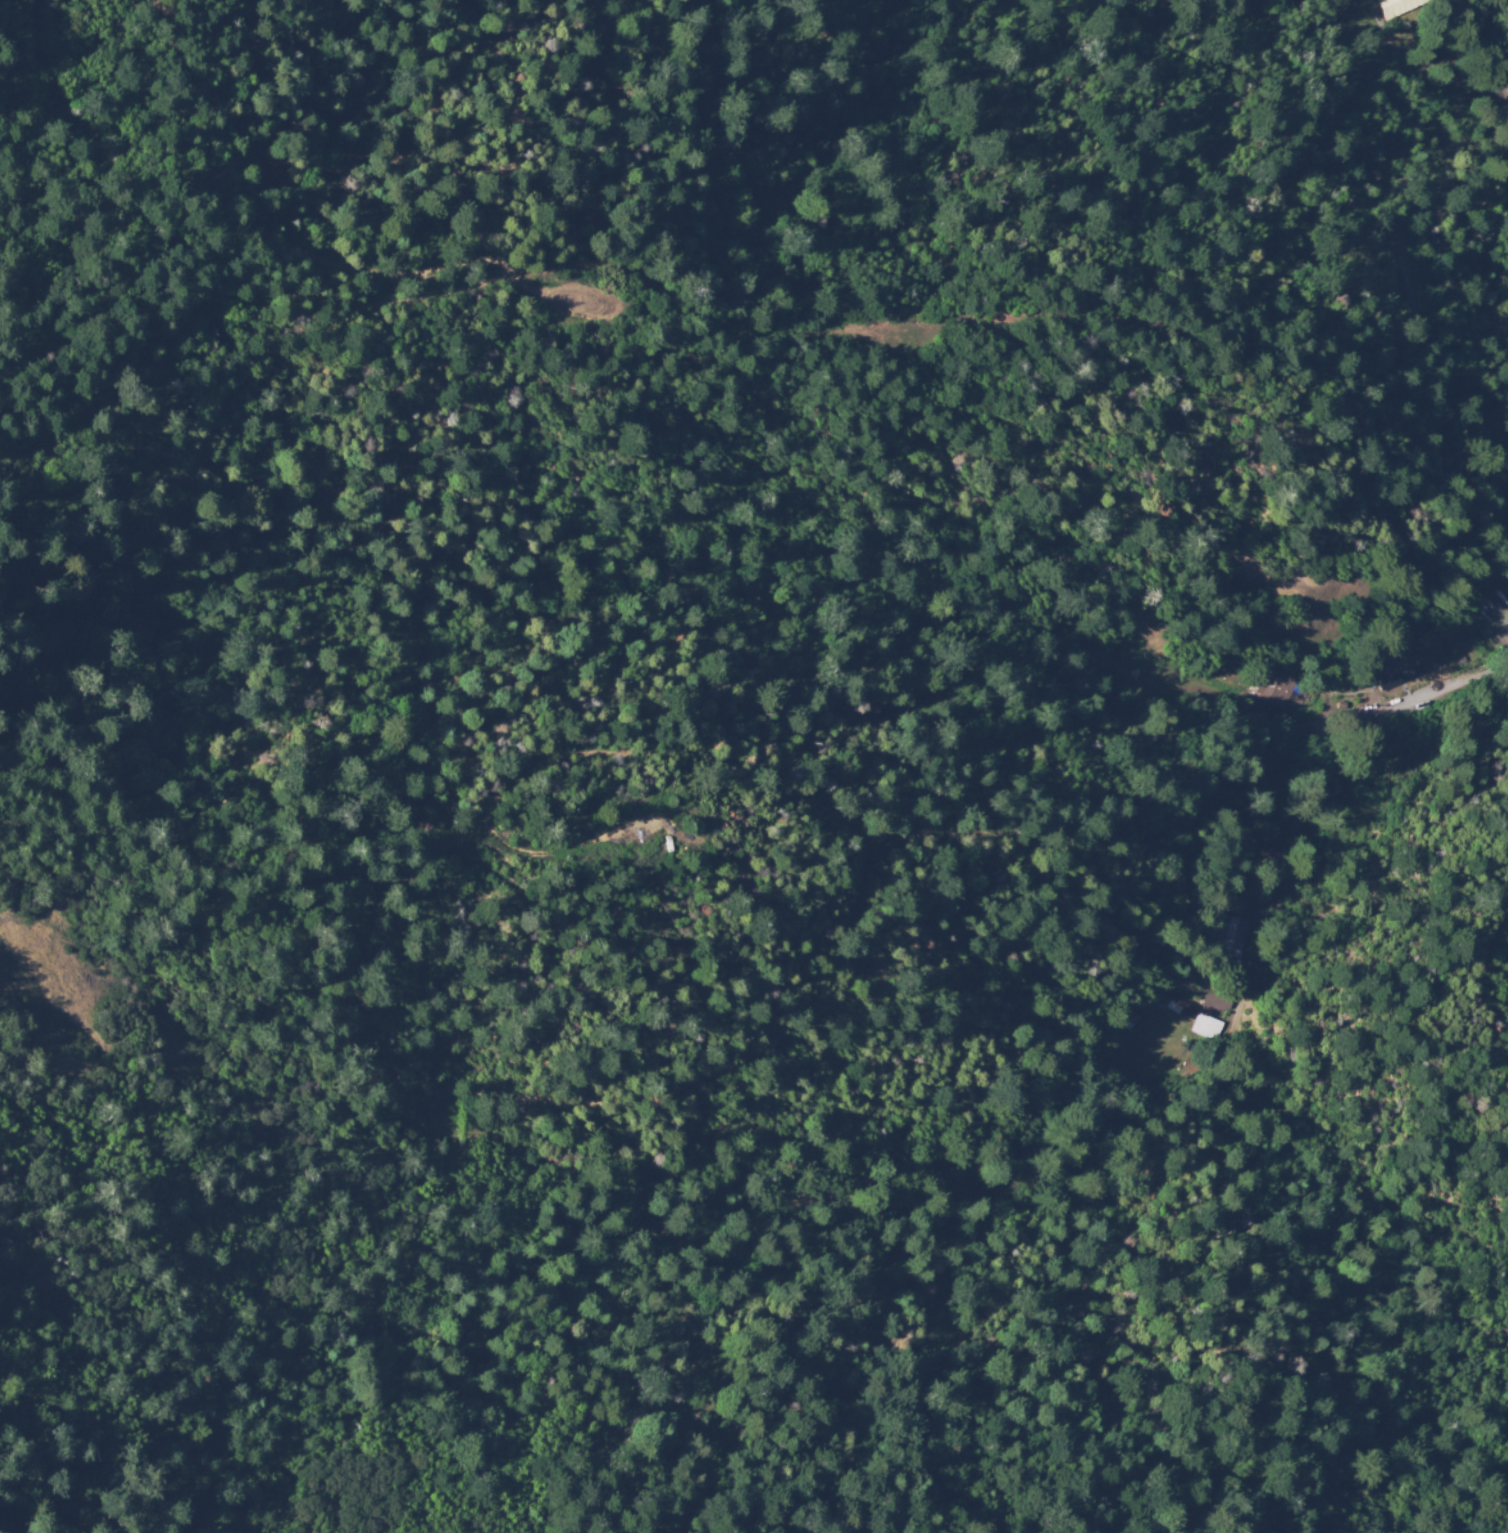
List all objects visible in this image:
building: (1389, 7)
park: (946, 19)
road: (1373, 22)
building: (1286, 58)
building: (1399, 672)
building: (1278, 688)
building: (1342, 705)
building: (1291, 902)
building: (1241, 942)
building: (1218, 1002)
building: (1207, 1027)

